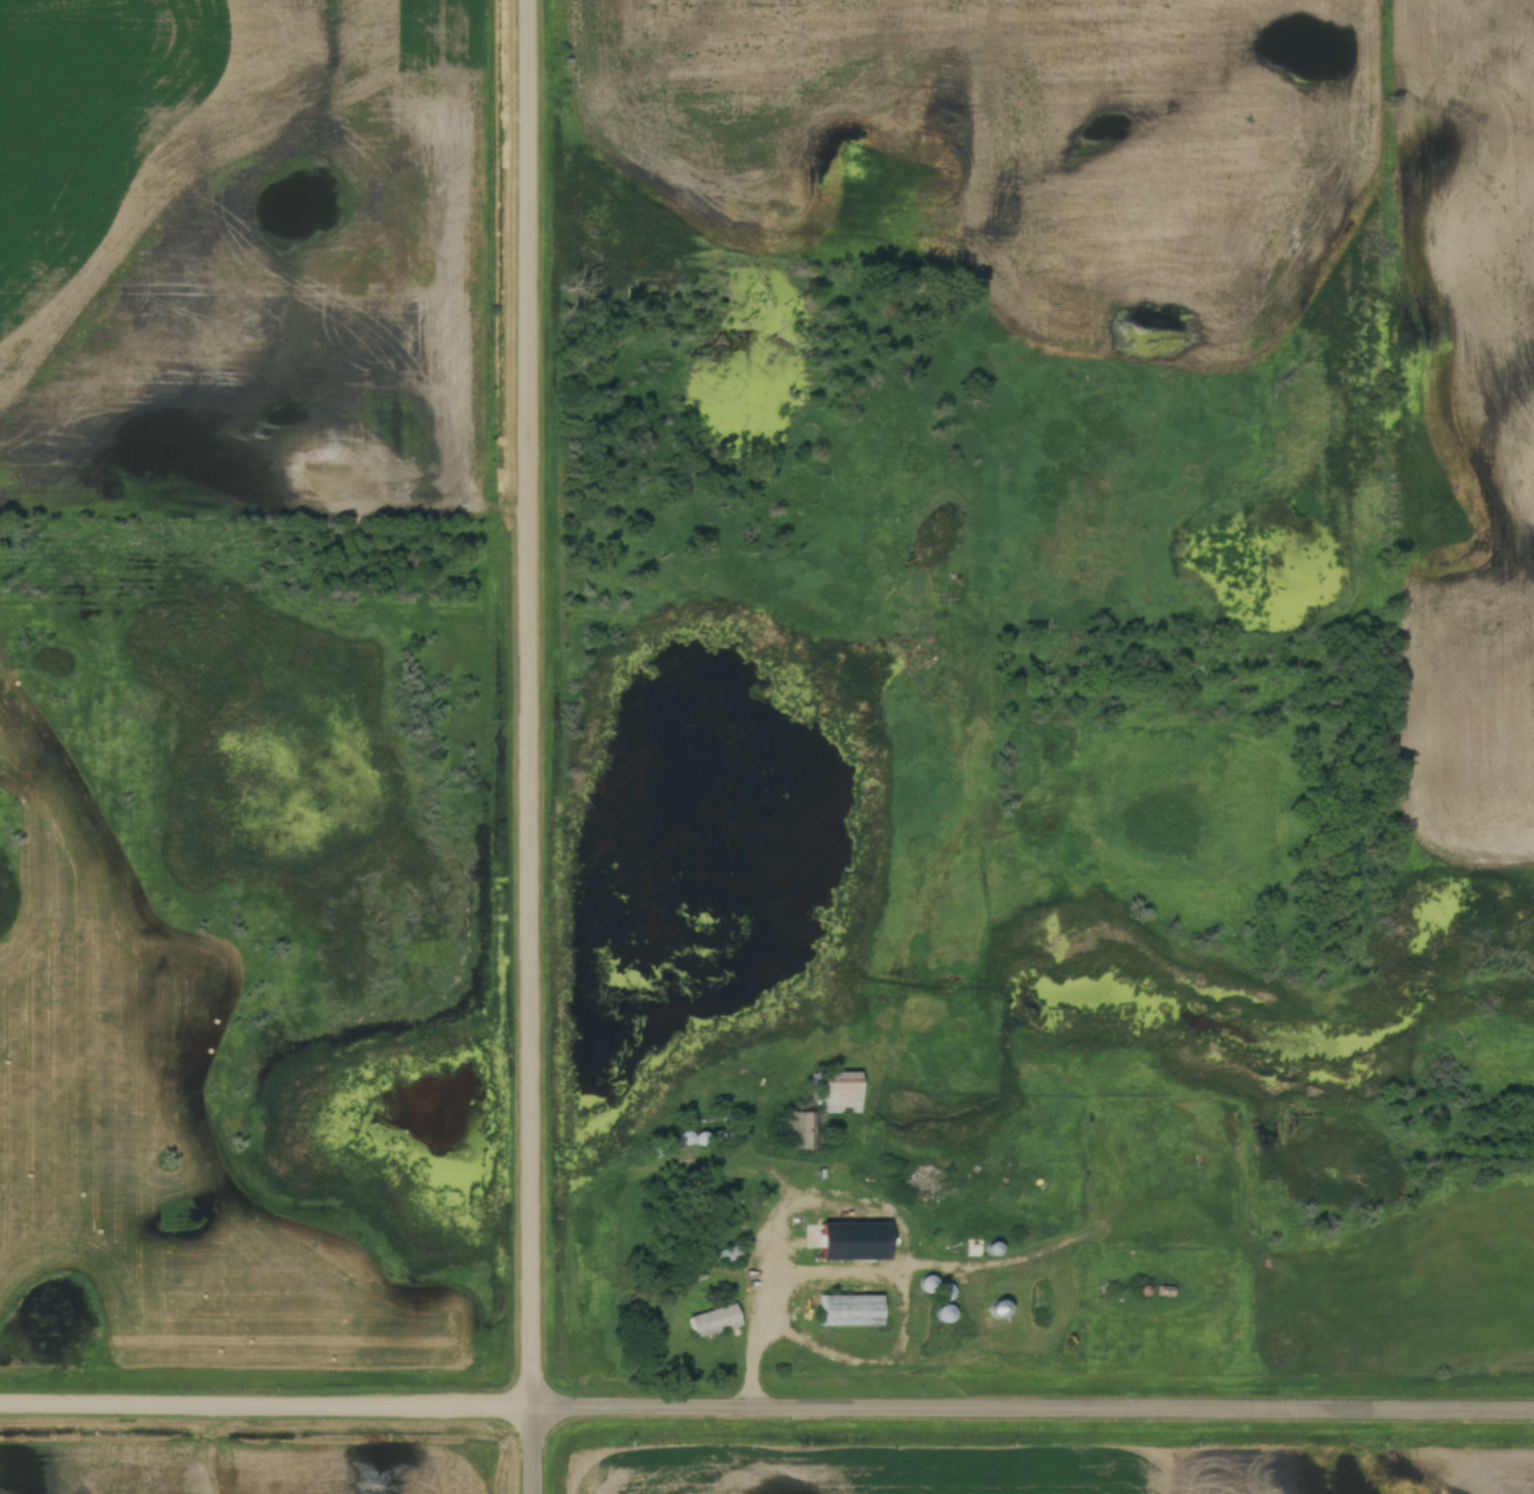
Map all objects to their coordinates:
road: (529, 703)
building: (838, 1093)
building: (693, 1138)
building: (856, 1242)
building: (715, 1258)
building: (936, 1290)
building: (1002, 1310)
building: (850, 1312)
building: (944, 1314)
building: (715, 1322)
road: (265, 1404)
road: (1032, 1408)
road: (530, 1450)

